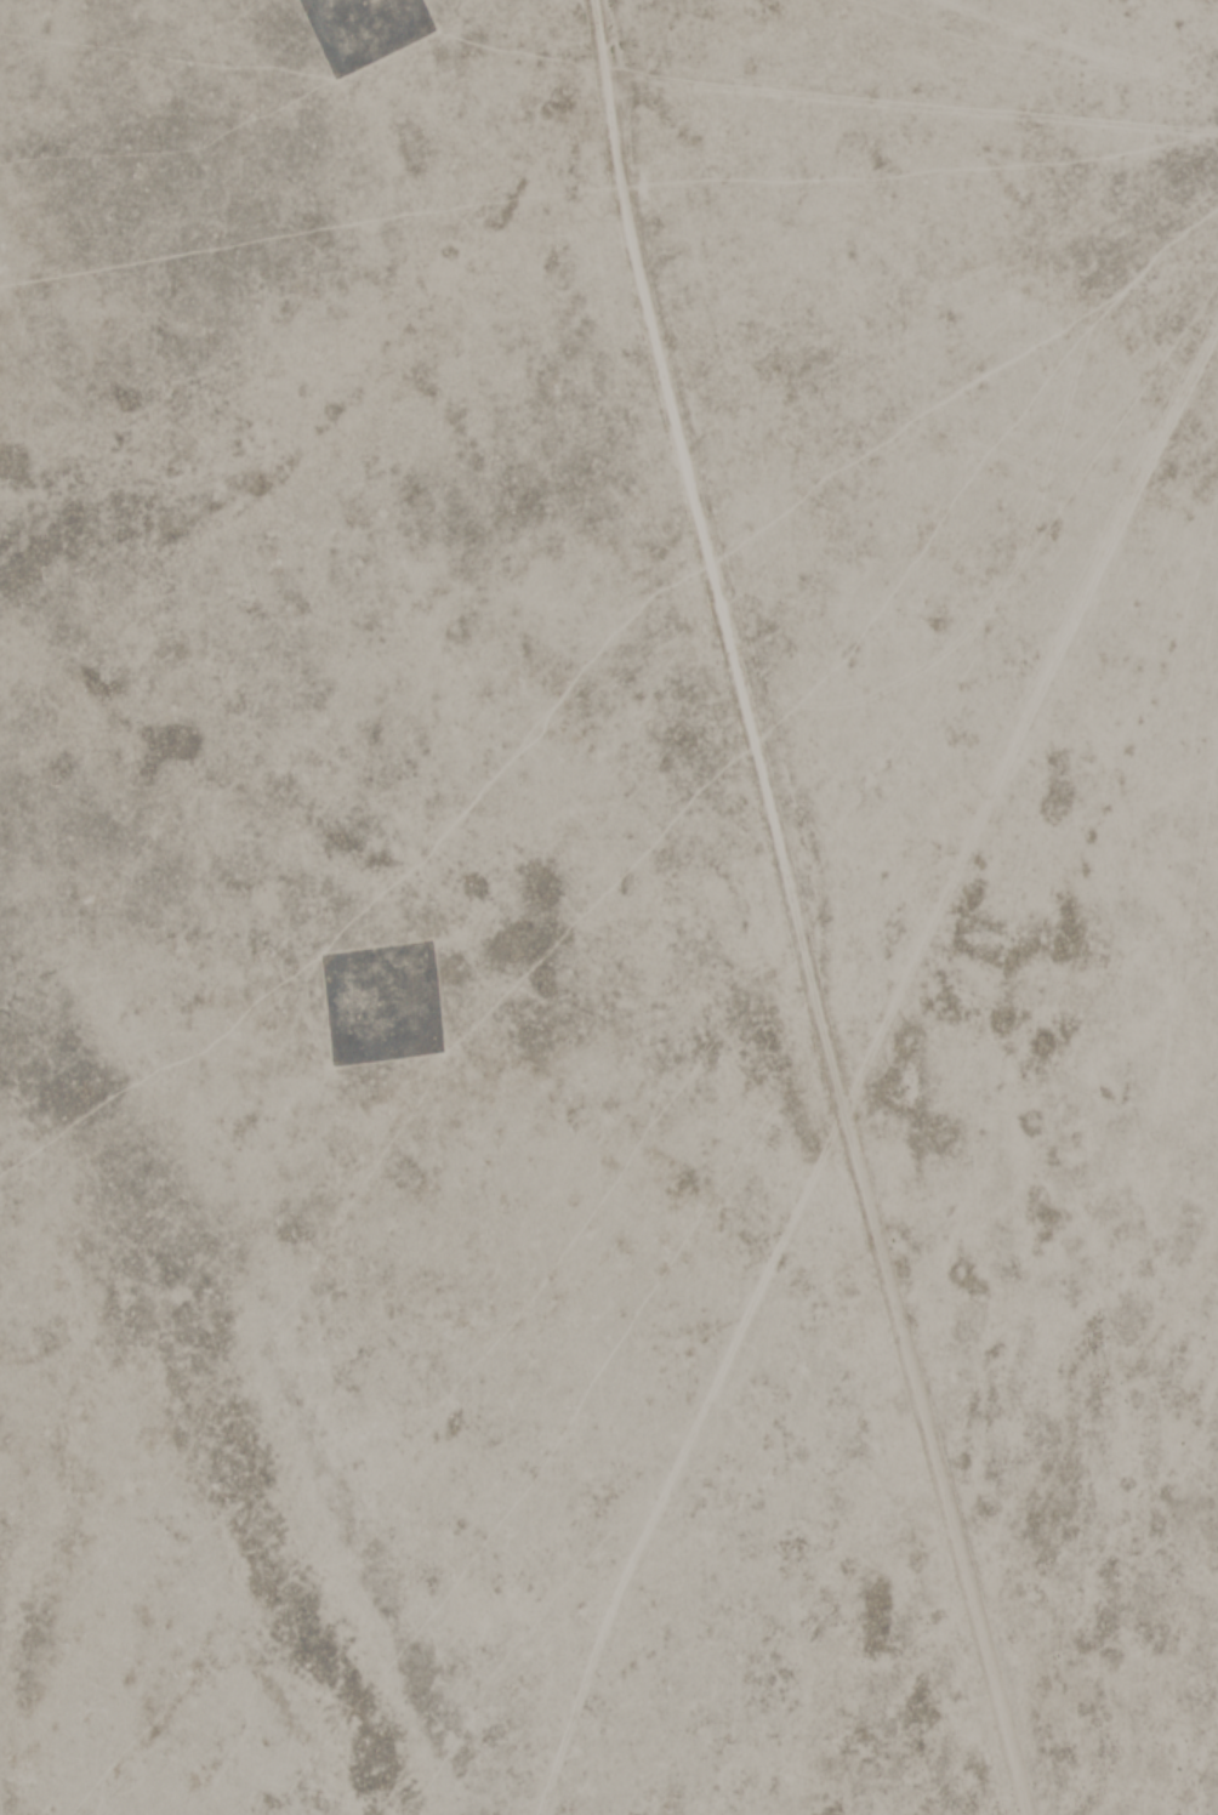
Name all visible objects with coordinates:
road: (1213, 5)
road: (790, 916)

